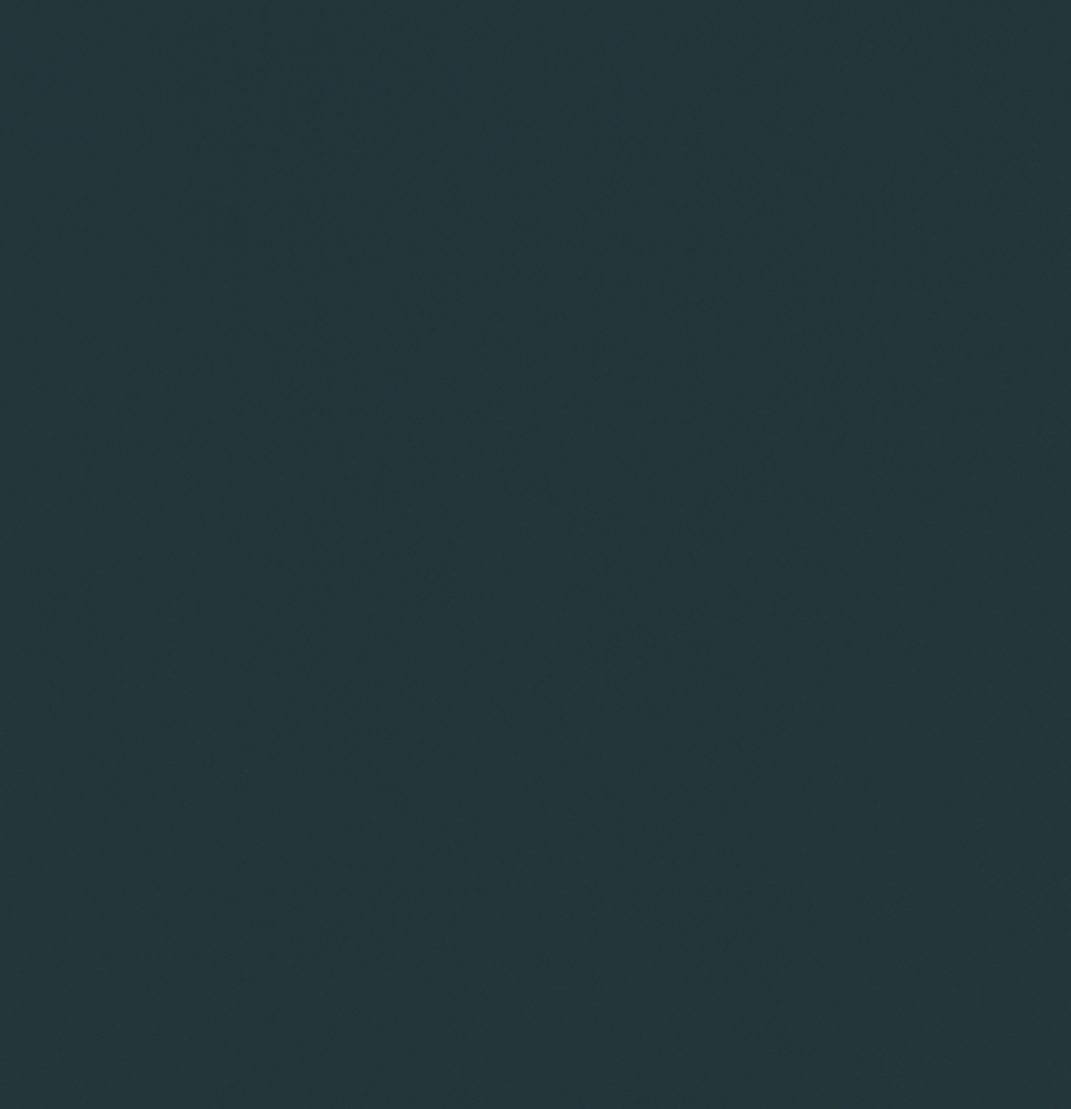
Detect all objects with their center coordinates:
river: (160, 916)

